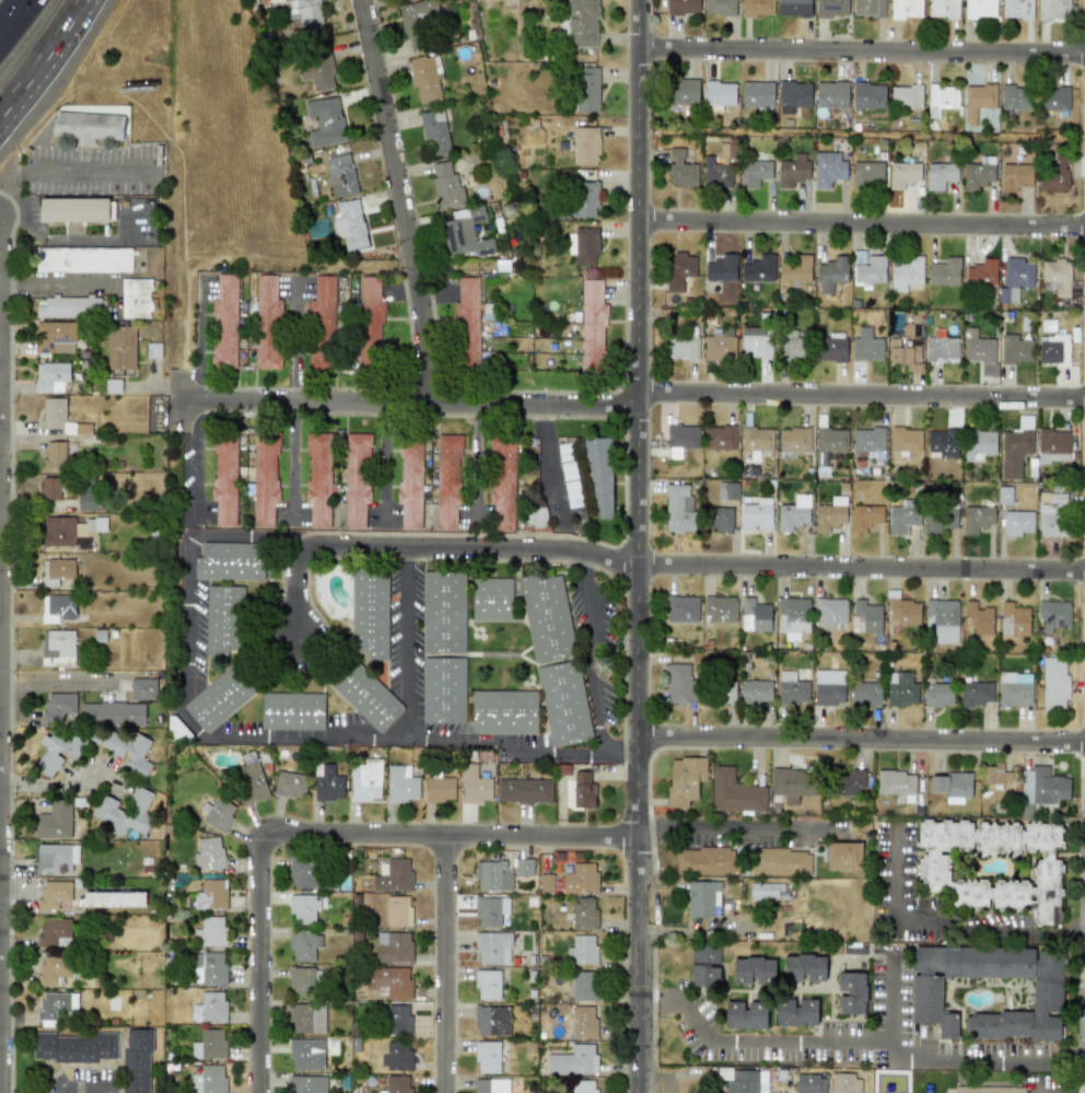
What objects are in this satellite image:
building: (682, 7)
building: (720, 7)
building: (757, 8)
building: (794, 8)
building: (831, 8)
building: (868, 8)
building: (906, 8)
building: (980, 8)
building: (943, 9)
building: (1017, 9)
building: (1053, 10)
road: (16, 20)
building: (417, 21)
building: (580, 23)
road: (59, 46)
road: (54, 47)
road: (862, 48)
building: (316, 70)
building: (424, 79)
building: (587, 90)
building: (682, 91)
building: (757, 93)
building: (719, 94)
building: (831, 94)
building: (867, 94)
building: (793, 96)
building: (906, 96)
building: (1015, 96)
building: (941, 98)
building: (1053, 98)
building: (977, 100)
road: (11, 107)
building: (324, 123)
building: (86, 126)
building: (434, 132)
building: (585, 146)
road: (174, 158)
building: (717, 168)
building: (828, 168)
building: (680, 170)
building: (792, 171)
building: (754, 172)
building: (978, 173)
road: (67, 174)
building: (867, 174)
building: (902, 174)
building: (1054, 174)
building: (340, 175)
building: (940, 175)
building: (1016, 176)
building: (446, 186)
building: (584, 199)
road: (402, 204)
building: (73, 209)
power tower: (521, 210)
road: (862, 223)
building: (349, 224)
building: (465, 233)
building: (583, 245)
building: (857, 257)
building: (83, 259)
building: (721, 268)
building: (758, 268)
building: (678, 269)
building: (795, 269)
building: (870, 270)
road: (299, 271)
building: (944, 271)
building: (831, 272)
building: (906, 272)
building: (981, 272)
building: (1057, 275)
building: (1015, 278)
building: (132, 298)
building: (68, 306)
building: (369, 321)
building: (467, 321)
building: (224, 322)
building: (267, 323)
building: (322, 324)
building: (592, 325)
building: (55, 337)
road: (180, 339)
building: (681, 342)
building: (755, 342)
building: (719, 345)
building: (791, 346)
building: (865, 346)
building: (906, 346)
building: (120, 347)
building: (830, 349)
building: (941, 349)
building: (1015, 349)
building: (1053, 349)
building: (980, 351)
building: (50, 376)
building: (113, 385)
road: (292, 400)
road: (641, 400)
building: (54, 412)
building: (681, 435)
building: (720, 438)
building: (756, 439)
building: (831, 439)
building: (905, 439)
building: (794, 440)
building: (868, 441)
building: (942, 443)
building: (978, 443)
building: (1052, 445)
building: (1016, 446)
building: (54, 455)
road: (549, 466)
road: (194, 472)
building: (318, 478)
building: (357, 478)
building: (600, 478)
building: (224, 479)
building: (264, 479)
building: (447, 480)
building: (502, 480)
building: (409, 482)
building: (49, 487)
building: (726, 490)
building: (1004, 495)
building: (86, 501)
building: (678, 508)
building: (793, 513)
building: (756, 514)
building: (829, 514)
building: (1052, 514)
building: (902, 515)
building: (535, 516)
building: (864, 516)
building: (940, 516)
building: (977, 518)
building: (719, 519)
building: (1017, 523)
building: (95, 524)
building: (58, 531)
road: (637, 546)
road: (439, 548)
building: (231, 560)
road: (861, 567)
building: (58, 568)
building: (492, 598)
building: (57, 607)
building: (680, 608)
building: (719, 608)
building: (830, 611)
building: (902, 611)
building: (371, 612)
building: (445, 612)
building: (755, 615)
building: (792, 616)
building: (867, 616)
building: (978, 617)
building: (548, 618)
building: (224, 619)
building: (1014, 619)
building: (941, 620)
road: (270, 626)
road: (406, 643)
building: (57, 648)
power tower: (609, 664)
road: (182, 682)
building: (680, 684)
building: (1054, 685)
building: (829, 686)
building: (141, 688)
building: (791, 688)
building: (900, 688)
building: (1015, 688)
building: (445, 690)
building: (756, 690)
building: (727, 691)
building: (224, 693)
building: (364, 693)
building: (976, 693)
building: (865, 694)
building: (937, 694)
building: (565, 702)
building: (58, 705)
building: (293, 711)
building: (505, 712)
building: (112, 713)
building: (178, 731)
road: (860, 739)
building: (125, 748)
building: (57, 751)
road: (606, 753)
road: (621, 755)
building: (995, 774)
building: (684, 779)
building: (365, 780)
building: (850, 781)
building: (895, 781)
building: (249, 782)
building: (290, 783)
building: (327, 783)
building: (400, 783)
building: (793, 783)
road: (57, 784)
building: (474, 784)
building: (953, 784)
building: (1041, 787)
building: (440, 789)
building: (524, 790)
building: (583, 790)
building: (735, 792)
building: (124, 811)
building: (217, 813)
building: (54, 819)
road: (730, 827)
road: (450, 836)
building: (208, 853)
building: (843, 856)
building: (56, 857)
building: (705, 861)
building: (781, 861)
building: (994, 865)
building: (523, 867)
building: (303, 872)
building: (492, 875)
building: (394, 876)
building: (580, 879)
building: (766, 891)
building: (210, 894)
building: (55, 895)
building: (702, 898)
building: (114, 899)
building: (303, 908)
building: (397, 910)
building: (489, 910)
building: (583, 912)
road: (938, 927)
building: (54, 931)
building: (210, 931)
building: (303, 945)
building: (393, 946)
building: (492, 947)
building: (581, 951)
road: (257, 963)
road: (444, 964)
building: (704, 964)
building: (804, 967)
building: (52, 968)
building: (209, 968)
building: (752, 970)
building: (389, 980)
building: (303, 981)
building: (487, 985)
building: (584, 985)
building: (851, 992)
building: (1047, 995)
road: (645, 999)
building: (56, 1003)
building: (210, 1007)
building: (795, 1011)
building: (745, 1014)
building: (306, 1018)
building: (398, 1019)
building: (491, 1020)
building: (583, 1022)
road: (805, 1040)
building: (209, 1044)
building: (74, 1046)
building: (306, 1054)
building: (396, 1055)
building: (487, 1057)
building: (137, 1060)
building: (574, 1060)
road: (973, 1060)
road: (1073, 1062)
building: (208, 1080)
building: (744, 1080)
building: (397, 1083)
building: (809, 1083)
building: (844, 1083)
building: (307, 1084)
road: (94, 1085)
building: (491, 1085)
building: (583, 1086)
building: (987, 1089)
building: (779, 1092)

